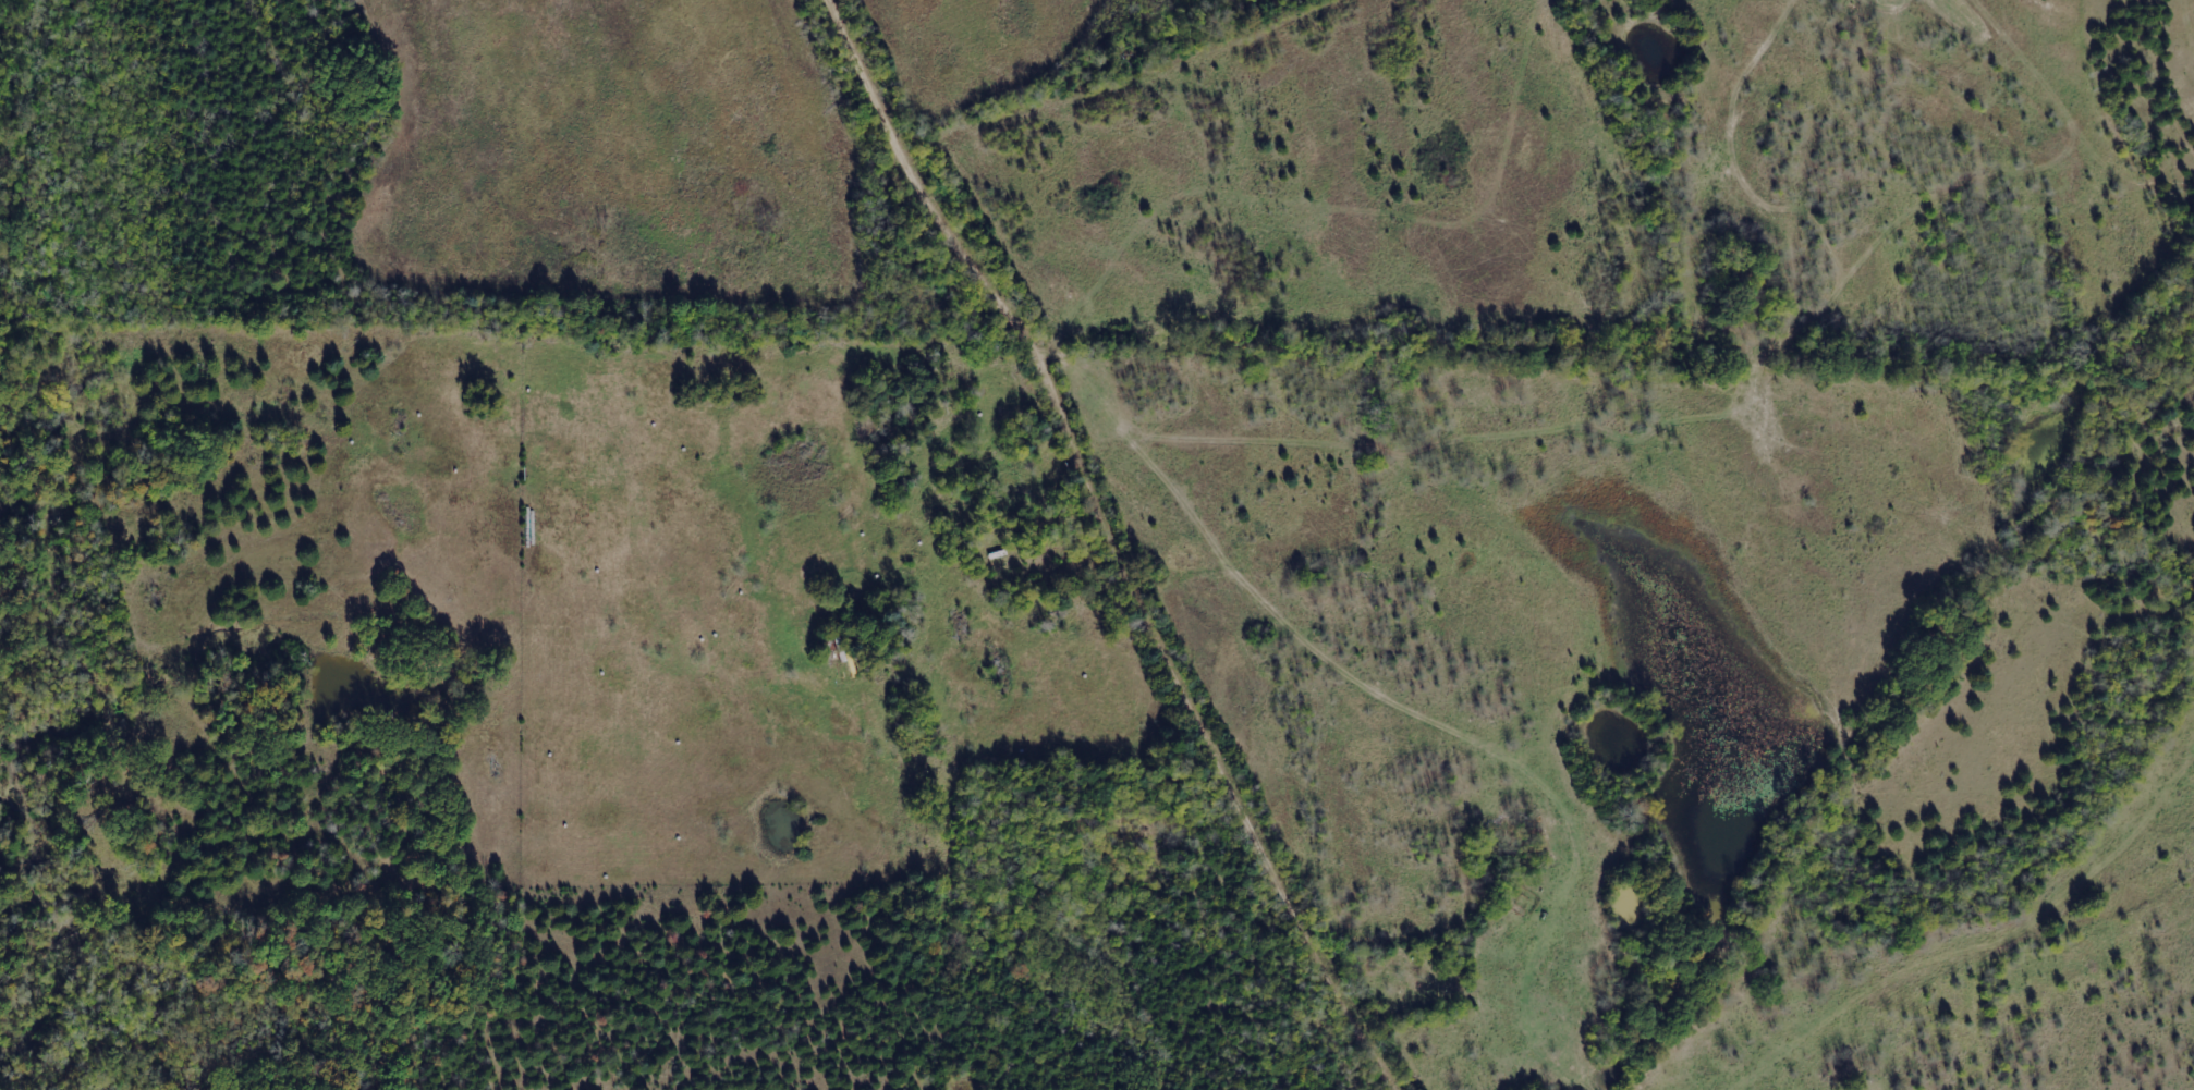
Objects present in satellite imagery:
road: (1099, 553)

